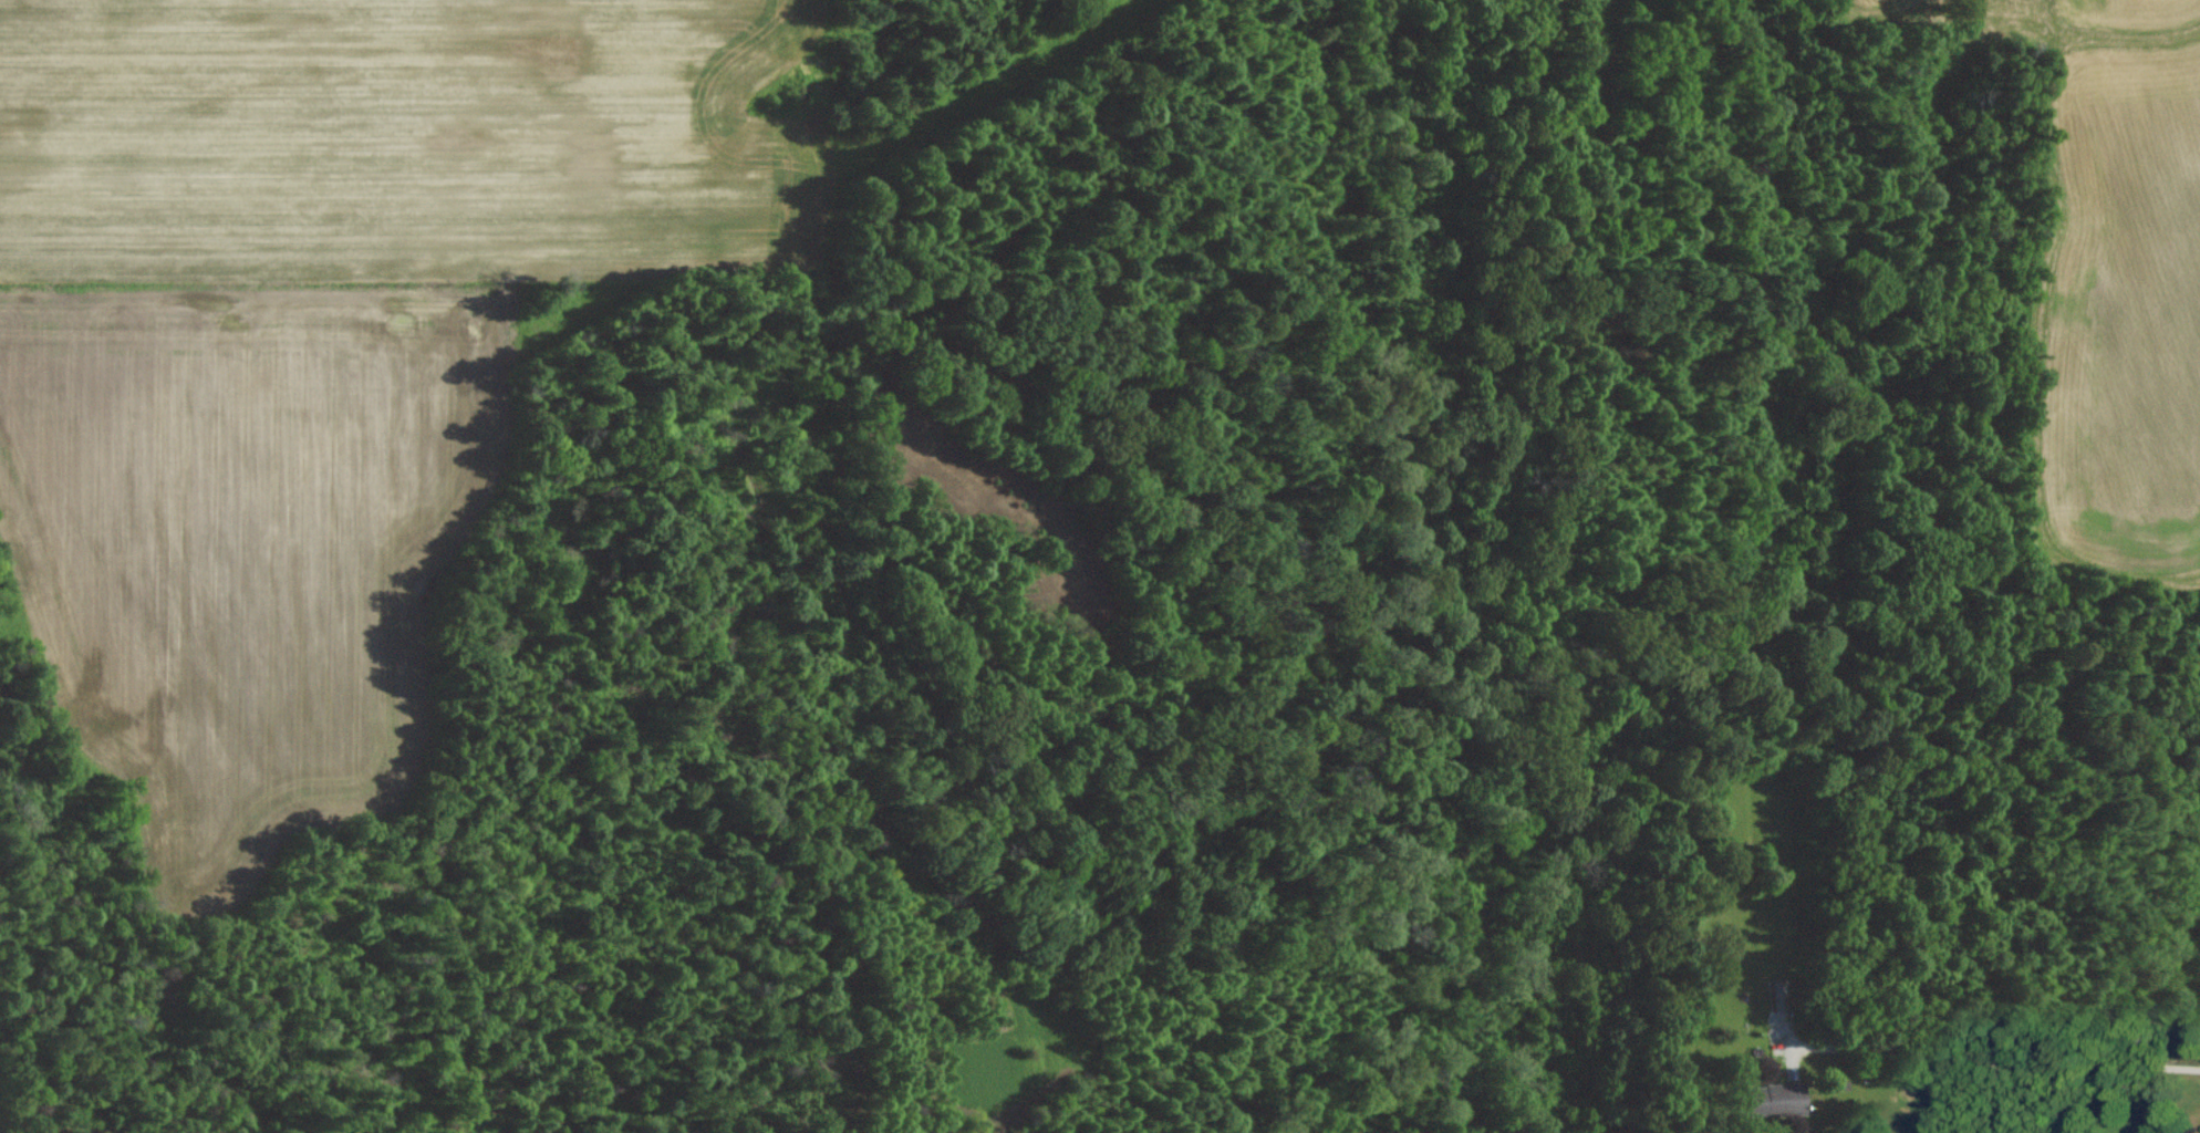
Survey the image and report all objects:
road: (1989, 1026)
building: (1774, 1098)

